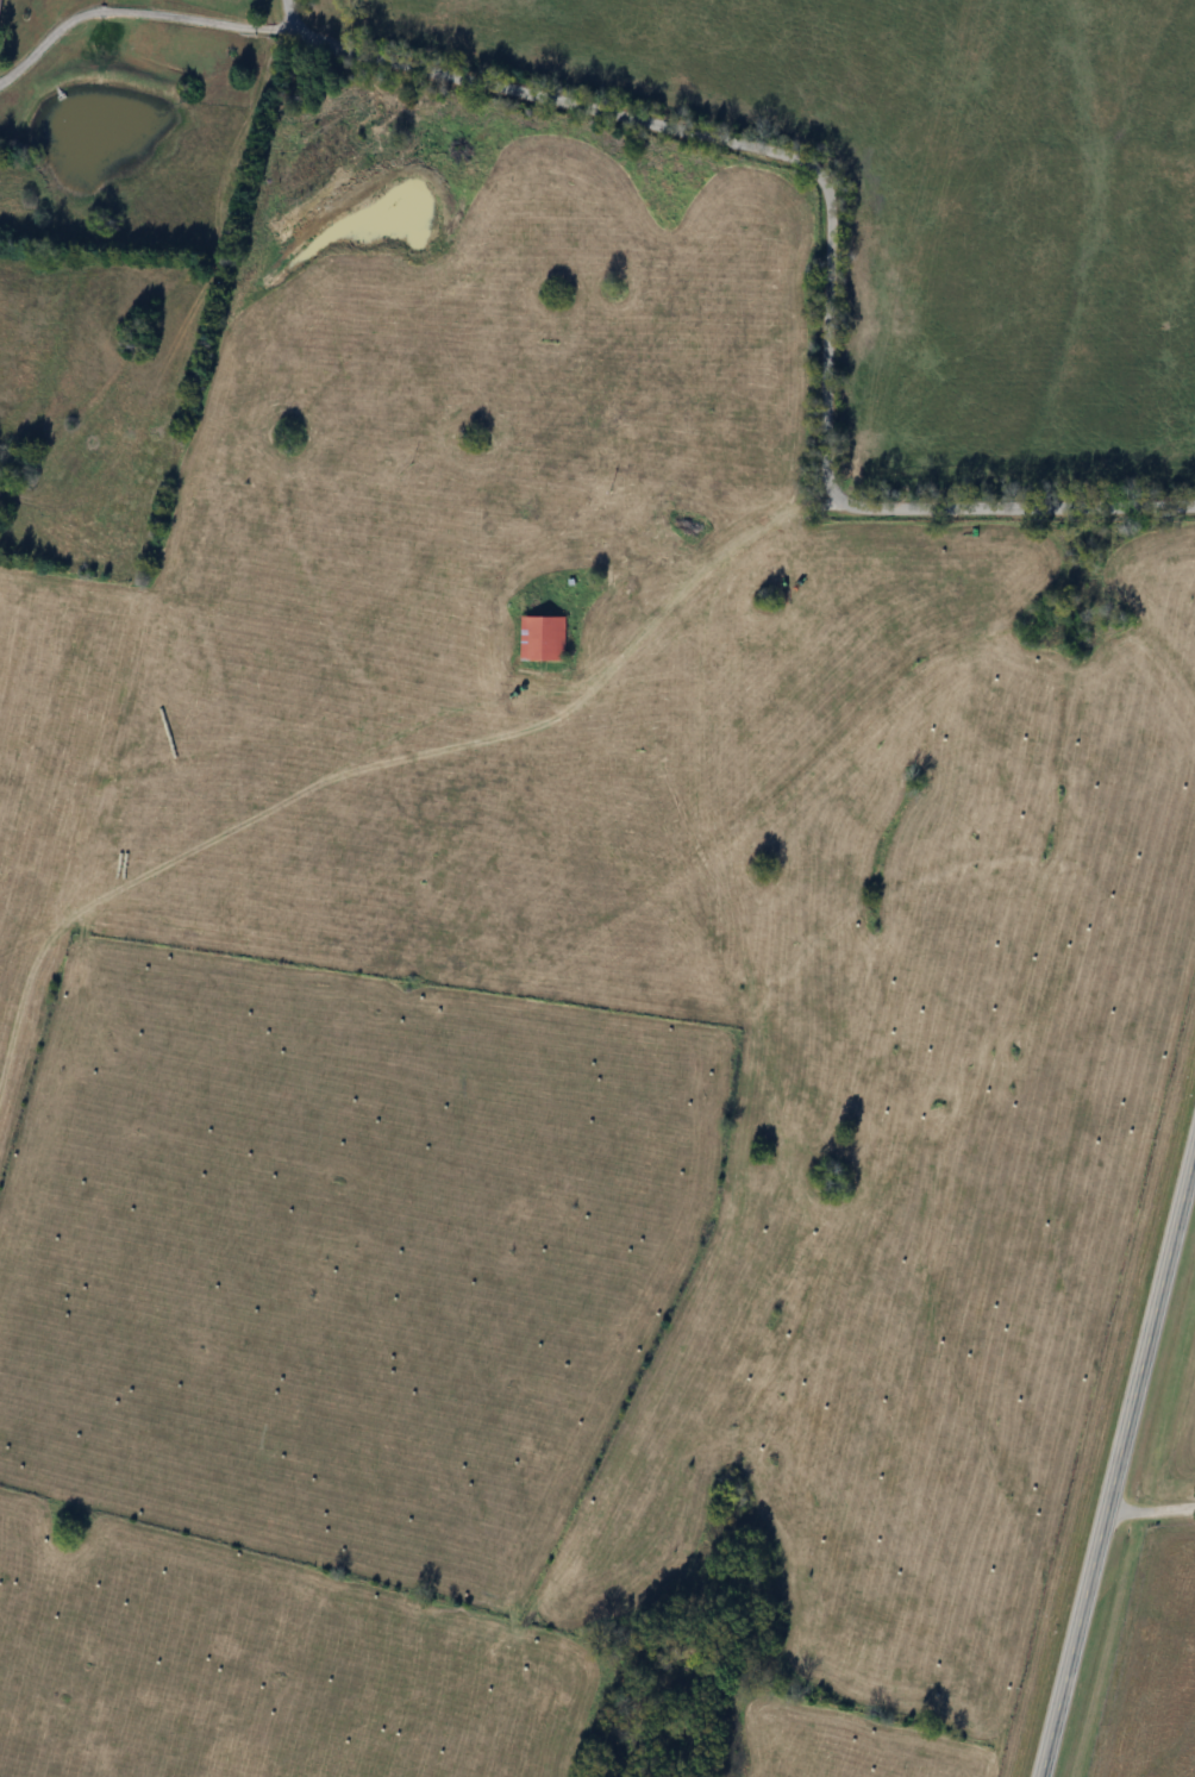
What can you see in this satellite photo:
building: (1, 10)
road: (134, 11)
road: (289, 13)
road: (830, 246)
building: (543, 638)
road: (1115, 1454)
road: (1149, 1509)

